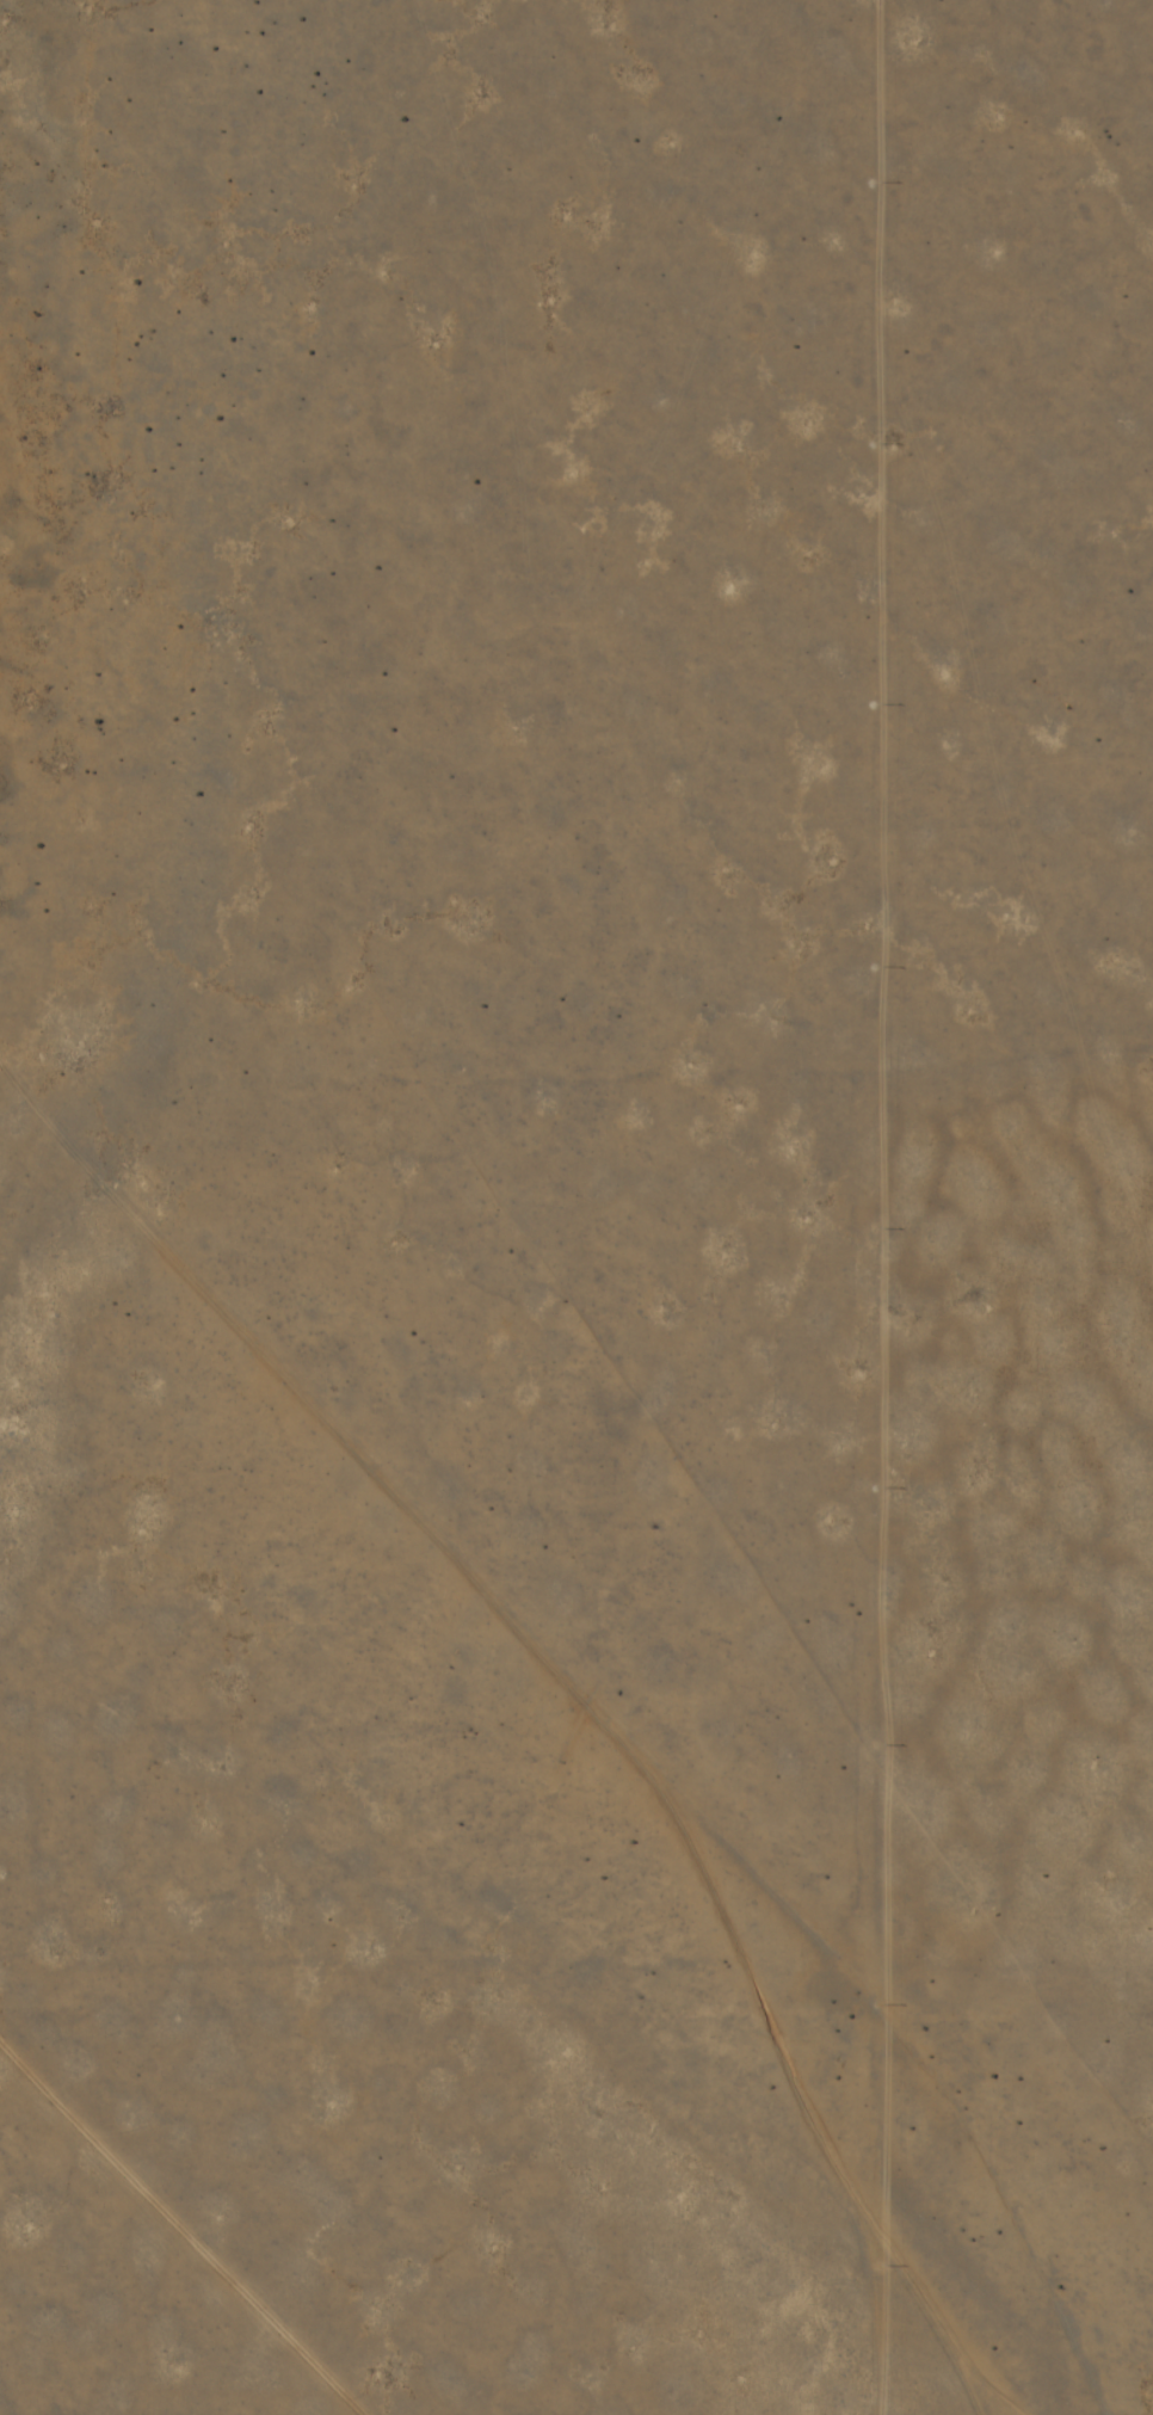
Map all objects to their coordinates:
road: (1017, 2052)
road: (216, 2185)

